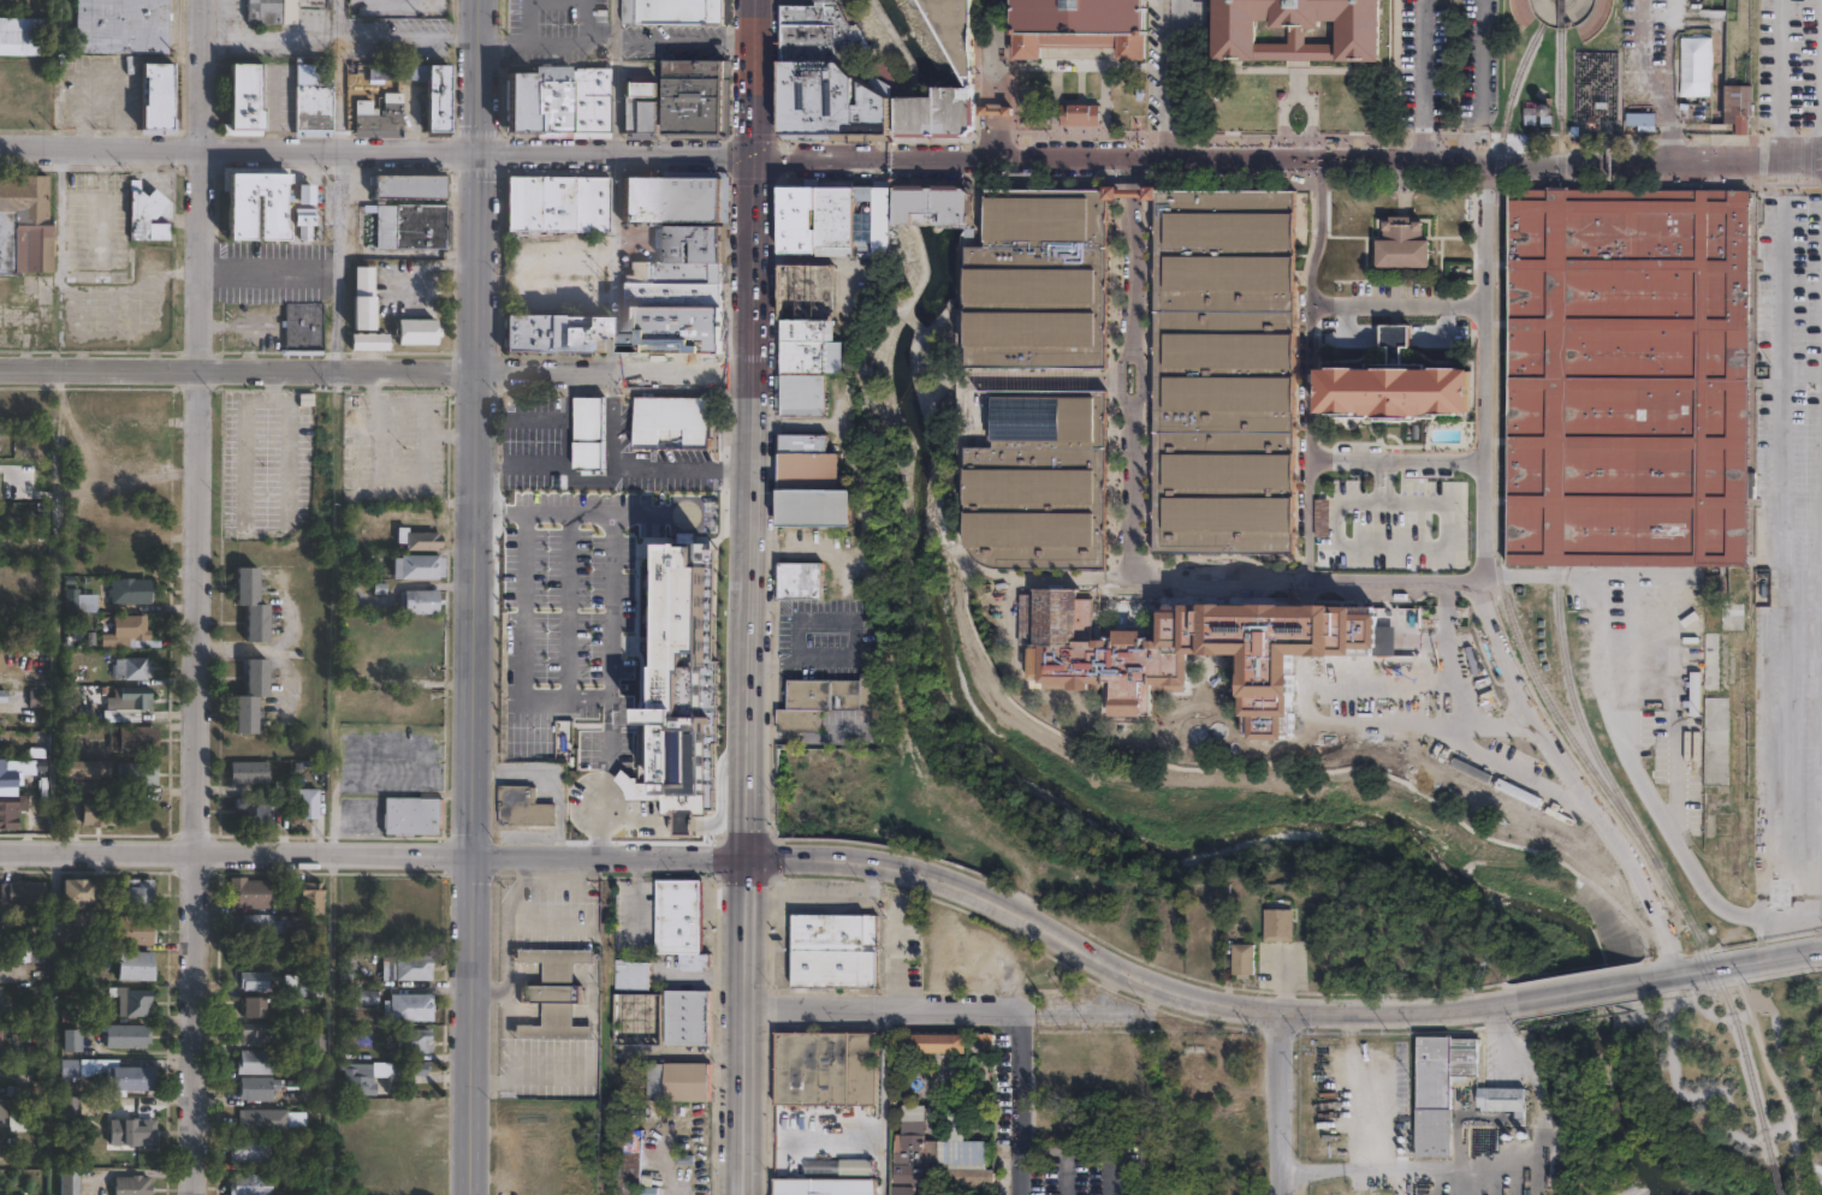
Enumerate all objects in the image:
road: (546, 0)
parking lot: (402, 7)
building: (261, 10)
building: (673, 11)
parking lot: (1189, 22)
building: (1080, 25)
stadium: (1080, 25)
building: (123, 26)
railway: (1560, 26)
building: (1296, 29)
parking lot: (554, 31)
building: (950, 31)
road: (613, 32)
building: (821, 32)
building: (26, 36)
road: (1176, 36)
road: (409, 37)
parking lot: (673, 41)
parking lot: (398, 42)
road: (551, 42)
road: (597, 42)
road: (684, 43)
road: (897, 44)
road: (1600, 49)
road: (1004, 53)
road: (987, 54)
building: (1696, 65)
road: (1780, 65)
parking lot: (1422, 66)
parking lot: (1480, 66)
parking lot: (1790, 66)
road: (781, 70)
road: (338, 76)
road: (756, 78)
road: (1162, 81)
road: (1420, 81)
road: (1483, 82)
building: (1597, 85)
road: (1670, 91)
building: (155, 96)
building: (244, 96)
building: (694, 96)
building: (833, 96)
building: (552, 101)
building: (438, 106)
building: (640, 106)
building: (1735, 106)
railway: (1560, 107)
building: (314, 108)
water tower: (1550, 108)
building: (931, 111)
road: (612, 112)
building: (1080, 113)
road: (1175, 118)
building: (381, 123)
road: (1590, 125)
road: (1005, 135)
road: (987, 136)
road: (1271, 137)
road: (1780, 145)
road: (307, 150)
road: (686, 156)
traffic signals: (756, 159)
road: (1812, 159)
road: (1280, 164)
fountain: (1642, 178)
road: (730, 180)
road: (1173, 180)
building: (402, 189)
building: (639, 200)
building: (688, 200)
building: (556, 203)
building: (927, 203)
building: (256, 208)
building: (143, 210)
road: (1302, 210)
building: (833, 218)
building: (24, 226)
building: (402, 228)
road: (1484, 234)
railway: (1560, 238)
building: (693, 244)
building: (1400, 248)
road: (57, 258)
road: (812, 261)
road: (337, 262)
road: (1496, 262)
road: (427, 266)
road: (613, 266)
road: (925, 270)
building: (672, 272)
road: (883, 272)
road: (269, 275)
parking lot: (90, 279)
building: (803, 291)
building: (671, 295)
building: (361, 298)
road: (1322, 307)
road: (900, 311)
road: (913, 322)
road: (1496, 322)
building: (302, 327)
building: (671, 329)
building: (415, 332)
building: (552, 333)
building: (369, 344)
building: (807, 365)
building: (1224, 370)
road: (376, 374)
parking lot: (1129, 375)
building: (1628, 379)
building: (1035, 384)
road: (1483, 384)
building: (1395, 386)
road: (536, 418)
road: (568, 420)
building: (671, 422)
railway: (1559, 428)
building: (588, 432)
road: (1495, 439)
railway: (1494, 440)
parking lot: (392, 446)
road: (1322, 462)
road: (551, 465)
road: (635, 470)
road: (1379, 481)
building: (811, 483)
road: (1442, 500)
road: (752, 505)
road: (1335, 505)
road: (1305, 515)
road: (777, 517)
road: (1779, 536)
building: (426, 537)
parking lot: (610, 540)
road: (1419, 542)
road: (1378, 547)
road: (1399, 551)
parking lot: (1788, 564)
building: (422, 565)
building: (1250, 570)
railway: (1557, 576)
building: (802, 579)
road: (1308, 583)
road: (1800, 587)
building: (131, 593)
road: (198, 596)
road: (476, 596)
building: (81, 600)
building: (423, 600)
building: (250, 604)
road: (566, 605)
building: (131, 635)
road: (853, 644)
building: (1203, 653)
building: (1, 661)
building: (1668, 661)
building: (411, 665)
building: (132, 670)
road: (609, 672)
road: (1502, 678)
road: (1129, 689)
building: (4, 696)
building: (250, 696)
building: (825, 697)
building: (37, 700)
building: (132, 701)
building: (670, 706)
parking lot: (586, 723)
railway: (1583, 725)
building: (5, 726)
road: (809, 735)
building: (135, 741)
road: (1620, 745)
road: (1818, 750)
road: (1174, 761)
building: (2, 768)
building: (89, 768)
road: (557, 773)
building: (251, 774)
building: (138, 775)
building: (310, 804)
building: (526, 807)
building: (100, 813)
building: (255, 813)
building: (413, 815)
building: (8, 818)
road: (374, 851)
traffic signals: (749, 854)
road: (842, 860)
building: (78, 891)
building: (250, 892)
building: (135, 893)
building: (22, 894)
building: (310, 898)
road: (826, 898)
railway: (1682, 910)
building: (676, 915)
road: (1652, 915)
building: (259, 923)
building: (0, 928)
building: (132, 929)
building: (96, 933)
building: (1272, 934)
building: (831, 950)
road: (900, 955)
road: (1734, 963)
building: (135, 964)
building: (411, 970)
building: (1238, 970)
railway: (1702, 970)
building: (253, 980)
building: (301, 986)
building: (552, 988)
road: (1579, 989)
building: (364, 995)
building: (130, 1000)
road: (1209, 1001)
building: (254, 1005)
building: (635, 1005)
road: (883, 1007)
building: (409, 1009)
building: (25, 1010)
building: (688, 1015)
road: (747, 1023)
building: (256, 1033)
building: (0, 1035)
building: (126, 1035)
building: (71, 1040)
building: (316, 1040)
building: (936, 1042)
building: (413, 1045)
building: (254, 1062)
railway: (1746, 1063)
building: (69, 1068)
road: (1770, 1068)
building: (416, 1069)
building: (825, 1069)
building: (311, 1070)
building: (117, 1076)
building: (357, 1078)
building: (686, 1080)
building: (1440, 1087)
building: (26, 1088)
building: (257, 1088)
road: (883, 1101)
building: (1503, 1101)
road: (1017, 1102)
road: (1280, 1104)
building: (66, 1107)
building: (87, 1107)
road: (1726, 1107)
building: (0, 1113)
building: (269, 1119)
building: (18, 1122)
building: (131, 1132)
building: (966, 1138)
building: (0, 1146)
building: (248, 1149)
building: (915, 1153)
building: (628, 1161)
building: (838, 1166)
road: (1492, 1169)
parking lot: (1081, 1171)
road: (1066, 1175)
road: (1114, 1176)
railway: (1776, 1177)
building: (67, 1182)
building: (251, 1184)
road: (1800, 1184)
building: (131, 1185)
building: (823, 1185)

